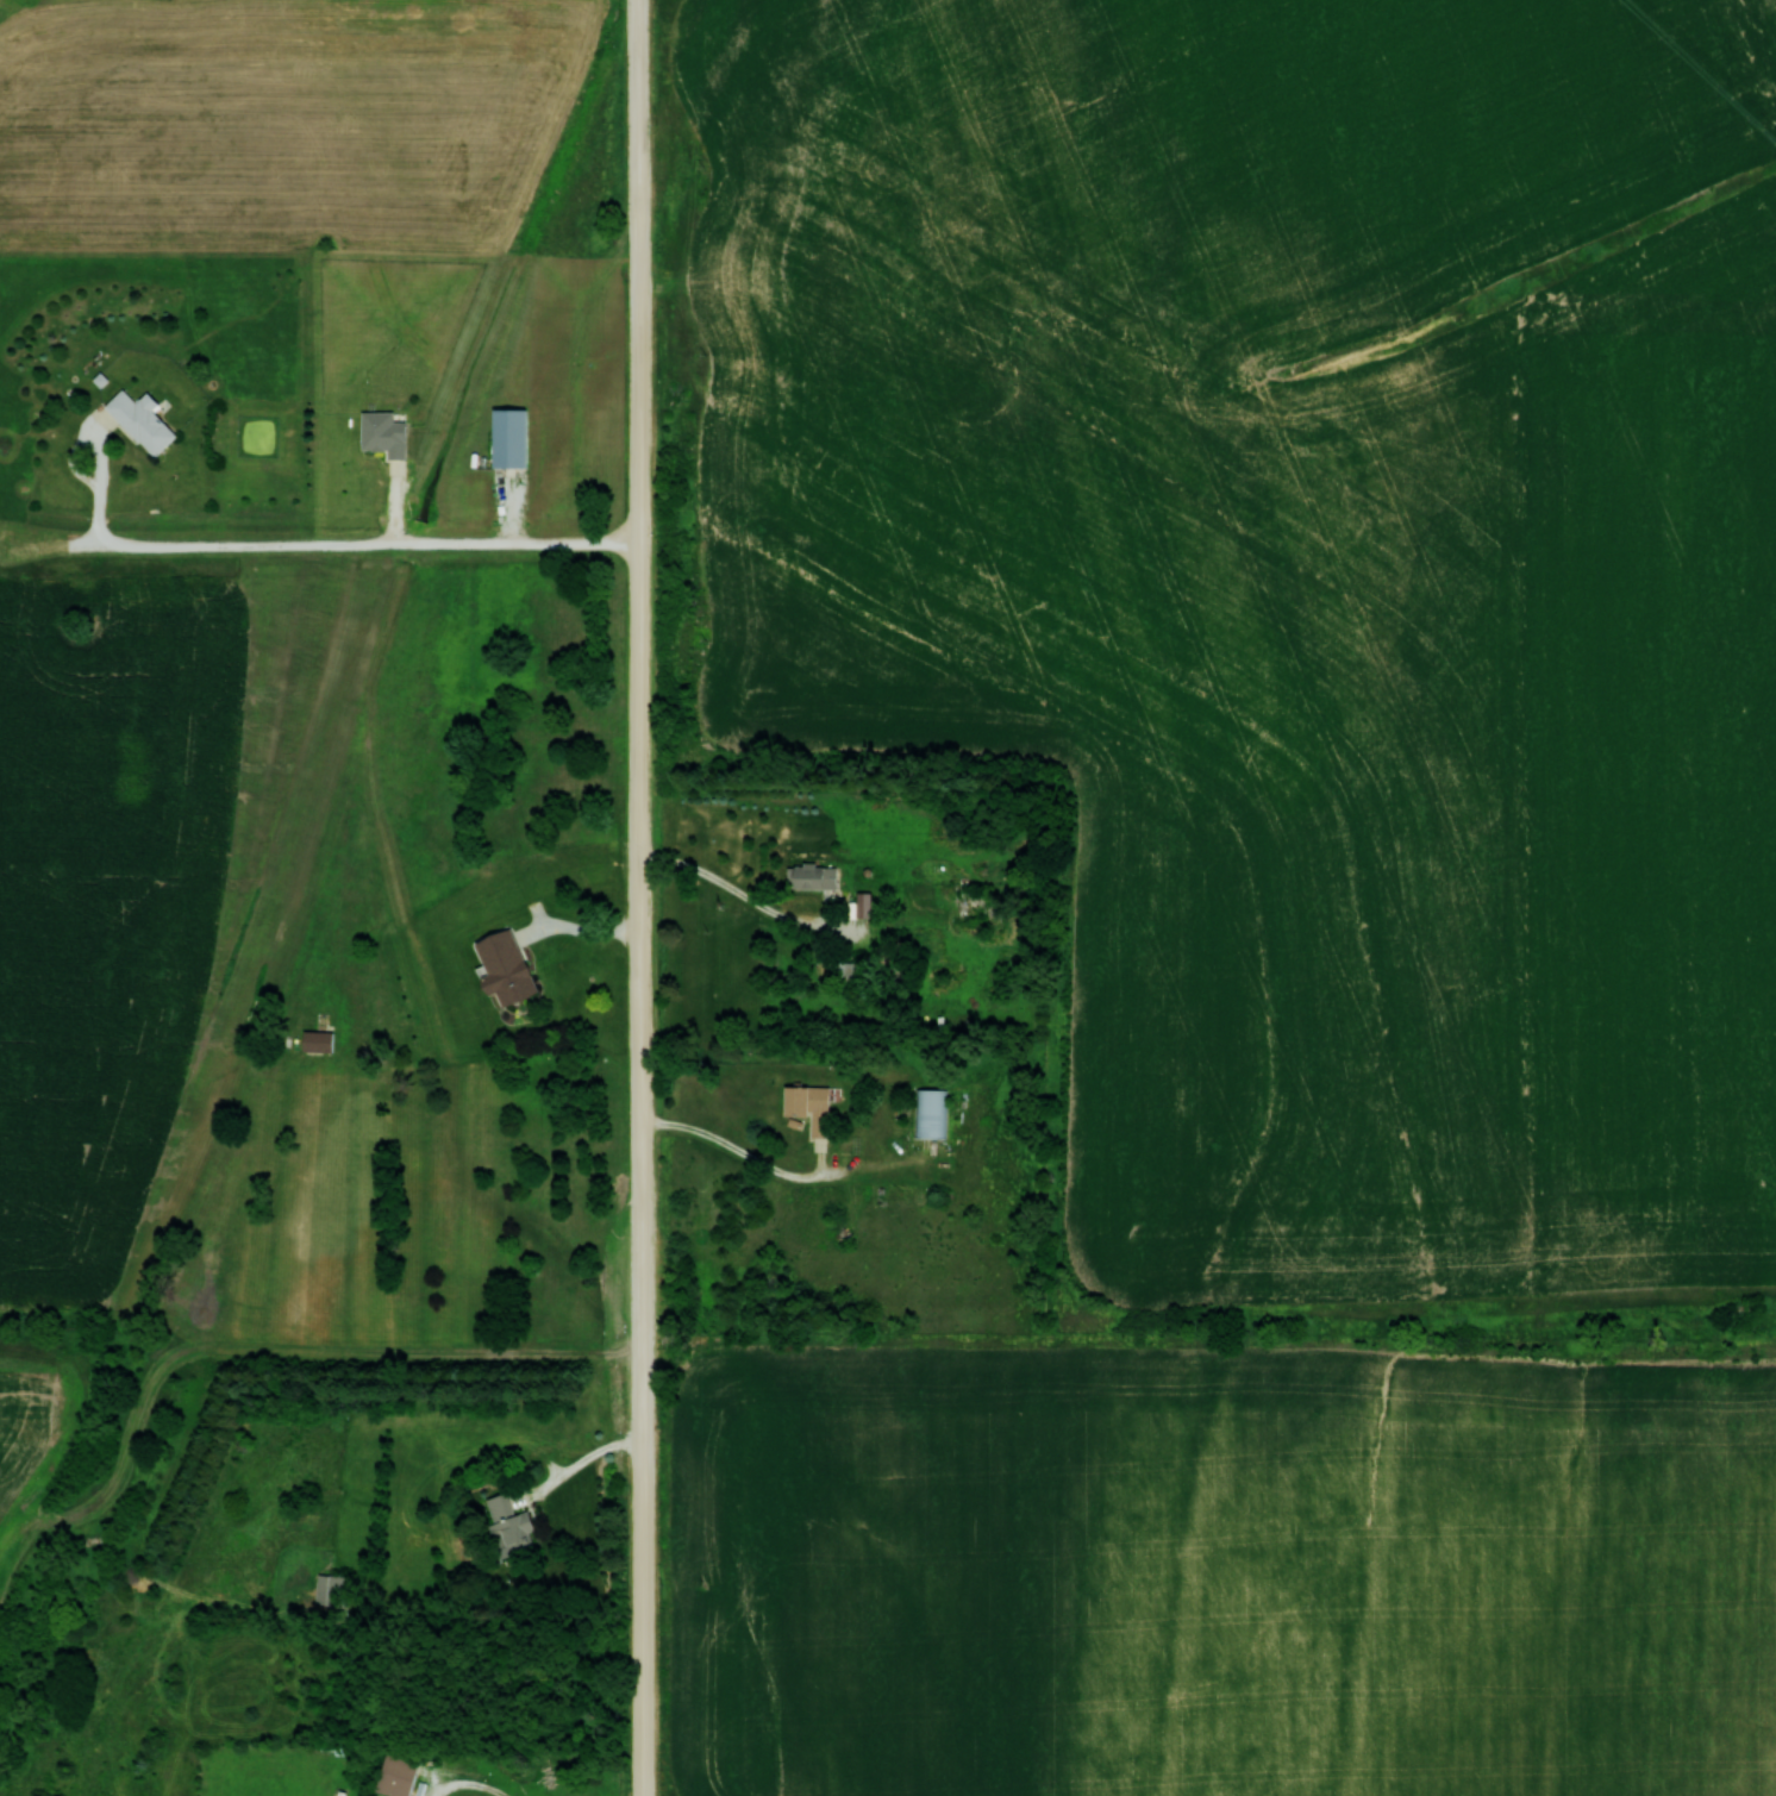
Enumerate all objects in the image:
building: (142, 420)
building: (383, 433)
building: (509, 437)
road: (368, 540)
building: (812, 876)
road: (742, 894)
road: (640, 897)
building: (861, 905)
building: (506, 966)
building: (318, 1040)
building: (809, 1106)
building: (928, 1113)
road: (733, 1147)
road: (584, 1459)
building: (509, 1523)
building: (329, 1589)
building: (398, 1775)
road: (469, 1784)

